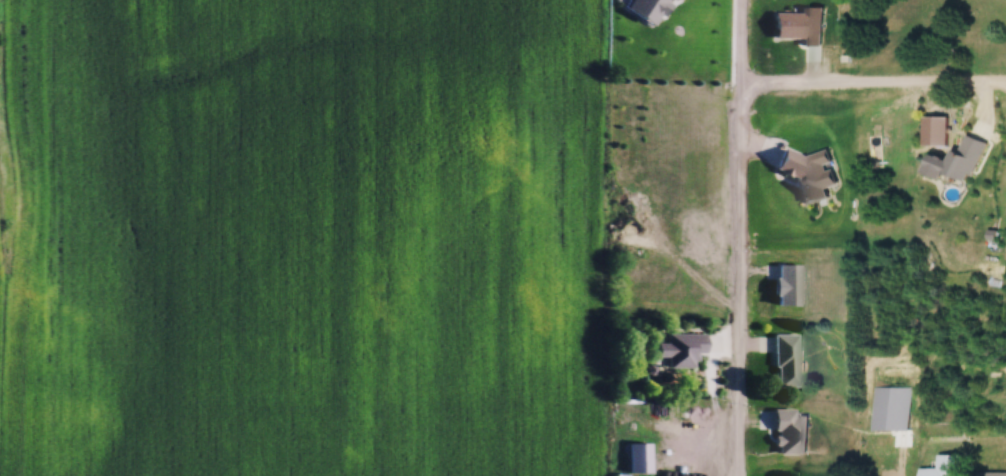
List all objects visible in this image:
building: (798, 25)
road: (872, 81)
building: (965, 158)
road: (739, 238)
building: (787, 284)
building: (679, 348)
road: (687, 348)
building: (783, 359)
road: (996, 448)
building: (943, 466)
building: (1000, 474)

